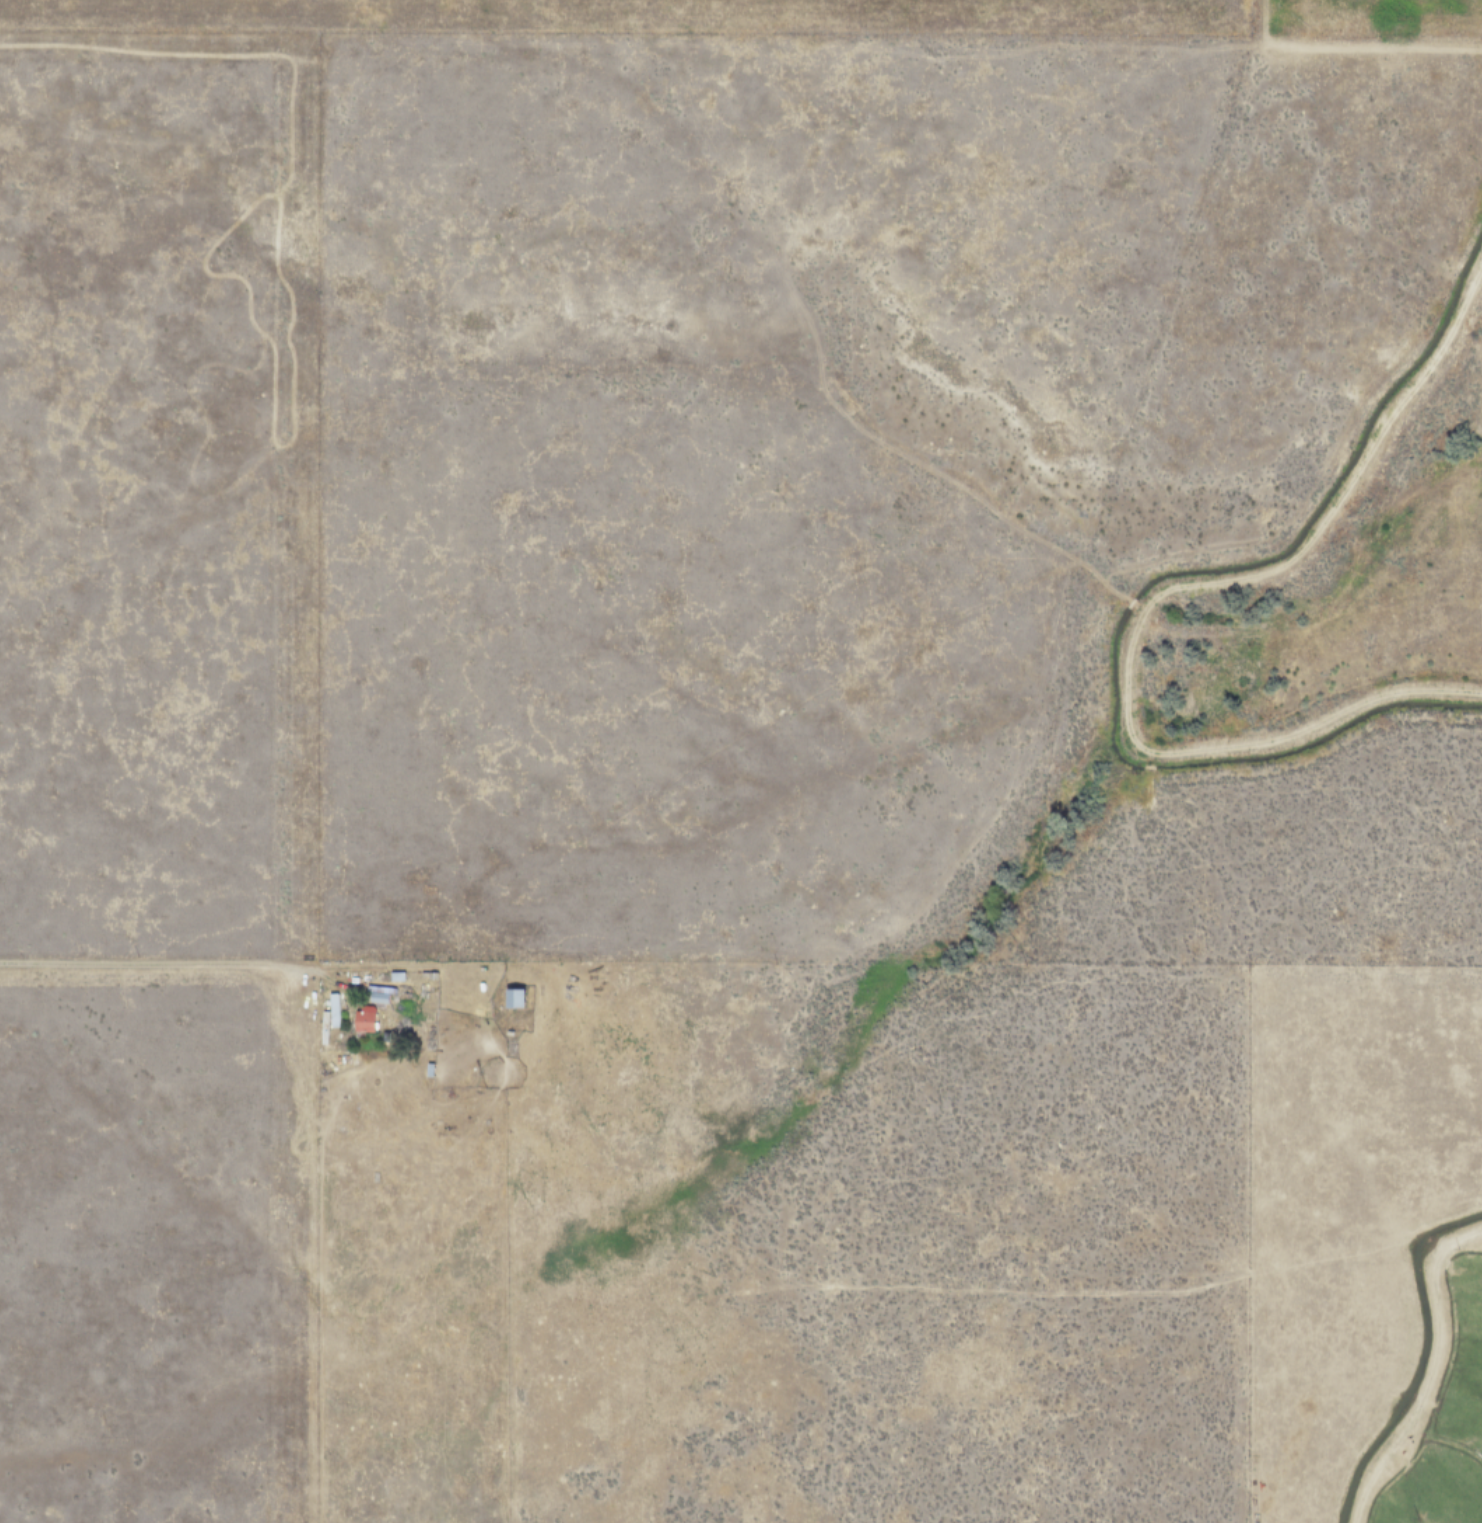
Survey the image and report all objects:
road: (157, 962)
building: (377, 995)
building: (512, 1000)
building: (331, 1011)
building: (362, 1020)

